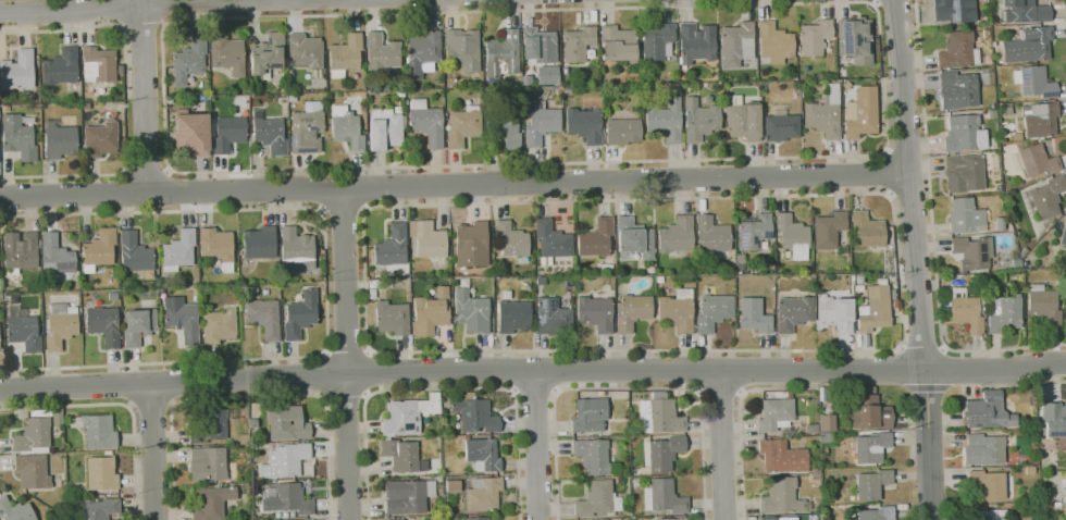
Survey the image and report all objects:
road: (876, 1)
road: (883, 1)
road: (877, 5)
road: (80, 8)
building: (951, 10)
road: (163, 12)
building: (1026, 12)
road: (120, 13)
building: (993, 23)
road: (142, 26)
building: (986, 34)
building: (815, 37)
building: (855, 39)
building: (658, 42)
building: (696, 42)
building: (774, 42)
building: (578, 44)
building: (618, 44)
building: (993, 44)
building: (540, 45)
building: (736, 45)
building: (1029, 46)
building: (462, 50)
building: (958, 50)
building: (306, 52)
building: (382, 52)
building: (422, 53)
building: (228, 54)
building: (268, 55)
building: (345, 55)
building: (501, 55)
building: (189, 60)
building: (99, 64)
building: (61, 67)
building: (566, 71)
building: (18, 73)
building: (545, 74)
building: (681, 77)
building: (526, 81)
building: (1034, 82)
building: (846, 86)
building: (559, 89)
building: (957, 90)
building: (400, 92)
road: (145, 96)
building: (293, 97)
building: (708, 99)
road: (124, 100)
building: (86, 107)
building: (398, 110)
building: (826, 113)
building: (862, 113)
building: (992, 114)
building: (664, 119)
building: (1040, 119)
building: (701, 120)
building: (744, 121)
building: (426, 123)
building: (541, 124)
building: (584, 125)
building: (781, 125)
building: (463, 126)
building: (308, 128)
building: (347, 128)
building: (385, 128)
building: (504, 129)
building: (622, 131)
building: (191, 133)
building: (228, 133)
building: (269, 134)
building: (964, 134)
building: (38, 135)
building: (18, 138)
building: (100, 139)
building: (60, 140)
road: (906, 150)
building: (1036, 161)
road: (146, 172)
road: (887, 173)
building: (964, 173)
road: (455, 185)
road: (321, 188)
road: (363, 188)
road: (166, 190)
road: (124, 191)
building: (1045, 197)
road: (344, 212)
building: (966, 216)
building: (1001, 224)
building: (829, 230)
building: (868, 230)
building: (754, 231)
building: (677, 235)
building: (793, 235)
road: (932, 235)
building: (1064, 235)
building: (714, 236)
building: (427, 238)
building: (596, 238)
building: (633, 238)
building: (511, 239)
building: (551, 242)
building: (260, 243)
building: (472, 244)
building: (392, 246)
building: (218, 247)
building: (297, 248)
building: (100, 249)
building: (179, 250)
building: (20, 251)
building: (136, 255)
building: (971, 255)
building: (57, 259)
road: (916, 259)
building: (606, 268)
building: (660, 278)
building: (859, 278)
building: (375, 283)
road: (326, 285)
building: (859, 288)
building: (893, 294)
building: (1044, 305)
building: (876, 308)
building: (678, 310)
building: (1065, 310)
building: (472, 311)
building: (632, 311)
building: (714, 311)
building: (966, 311)
building: (794, 312)
building: (431, 313)
building: (596, 313)
building: (835, 313)
building: (1004, 313)
building: (300, 314)
building: (754, 315)
building: (513, 317)
building: (553, 317)
building: (182, 318)
building: (264, 318)
building: (392, 318)
building: (104, 324)
building: (61, 326)
building: (139, 326)
building: (219, 326)
building: (23, 330)
building: (866, 341)
building: (0, 348)
road: (902, 348)
road: (943, 349)
road: (922, 350)
road: (380, 352)
road: (347, 354)
road: (347, 354)
road: (533, 370)
road: (694, 371)
road: (367, 372)
road: (739, 372)
road: (325, 376)
road: (172, 384)
road: (129, 385)
road: (625, 387)
road: (927, 387)
road: (439, 389)
building: (602, 393)
road: (720, 395)
road: (345, 396)
road: (251, 397)
road: (121, 404)
road: (151, 405)
building: (987, 411)
building: (868, 412)
building: (408, 414)
building: (660, 414)
building: (776, 414)
building: (475, 416)
building: (590, 416)
road: (740, 418)
building: (287, 422)
building: (826, 422)
building: (1054, 422)
building: (252, 423)
building: (212, 424)
building: (99, 431)
building: (443, 434)
building: (34, 436)
building: (468, 436)
building: (244, 438)
road: (536, 445)
road: (719, 445)
building: (870, 447)
building: (983, 449)
road: (153, 450)
building: (664, 453)
building: (483, 455)
building: (402, 456)
building: (594, 456)
building: (782, 457)
building: (285, 460)
building: (208, 465)
building: (816, 469)
building: (33, 472)
building: (636, 472)
building: (101, 473)
building: (439, 479)
building: (635, 483)
building: (870, 483)
building: (987, 484)
building: (454, 485)
building: (1063, 493)
building: (483, 495)
building: (408, 496)
building: (665, 497)
building: (783, 497)
building: (289, 499)
building: (598, 499)
building: (212, 503)
building: (100, 508)
building: (15, 510)
building: (875, 513)
building: (990, 513)
building: (411, 517)
building: (476, 518)
building: (675, 518)
building: (769, 518)
building: (300, 519)
building: (397, 519)
building: (420, 519)
building: (609, 519)

